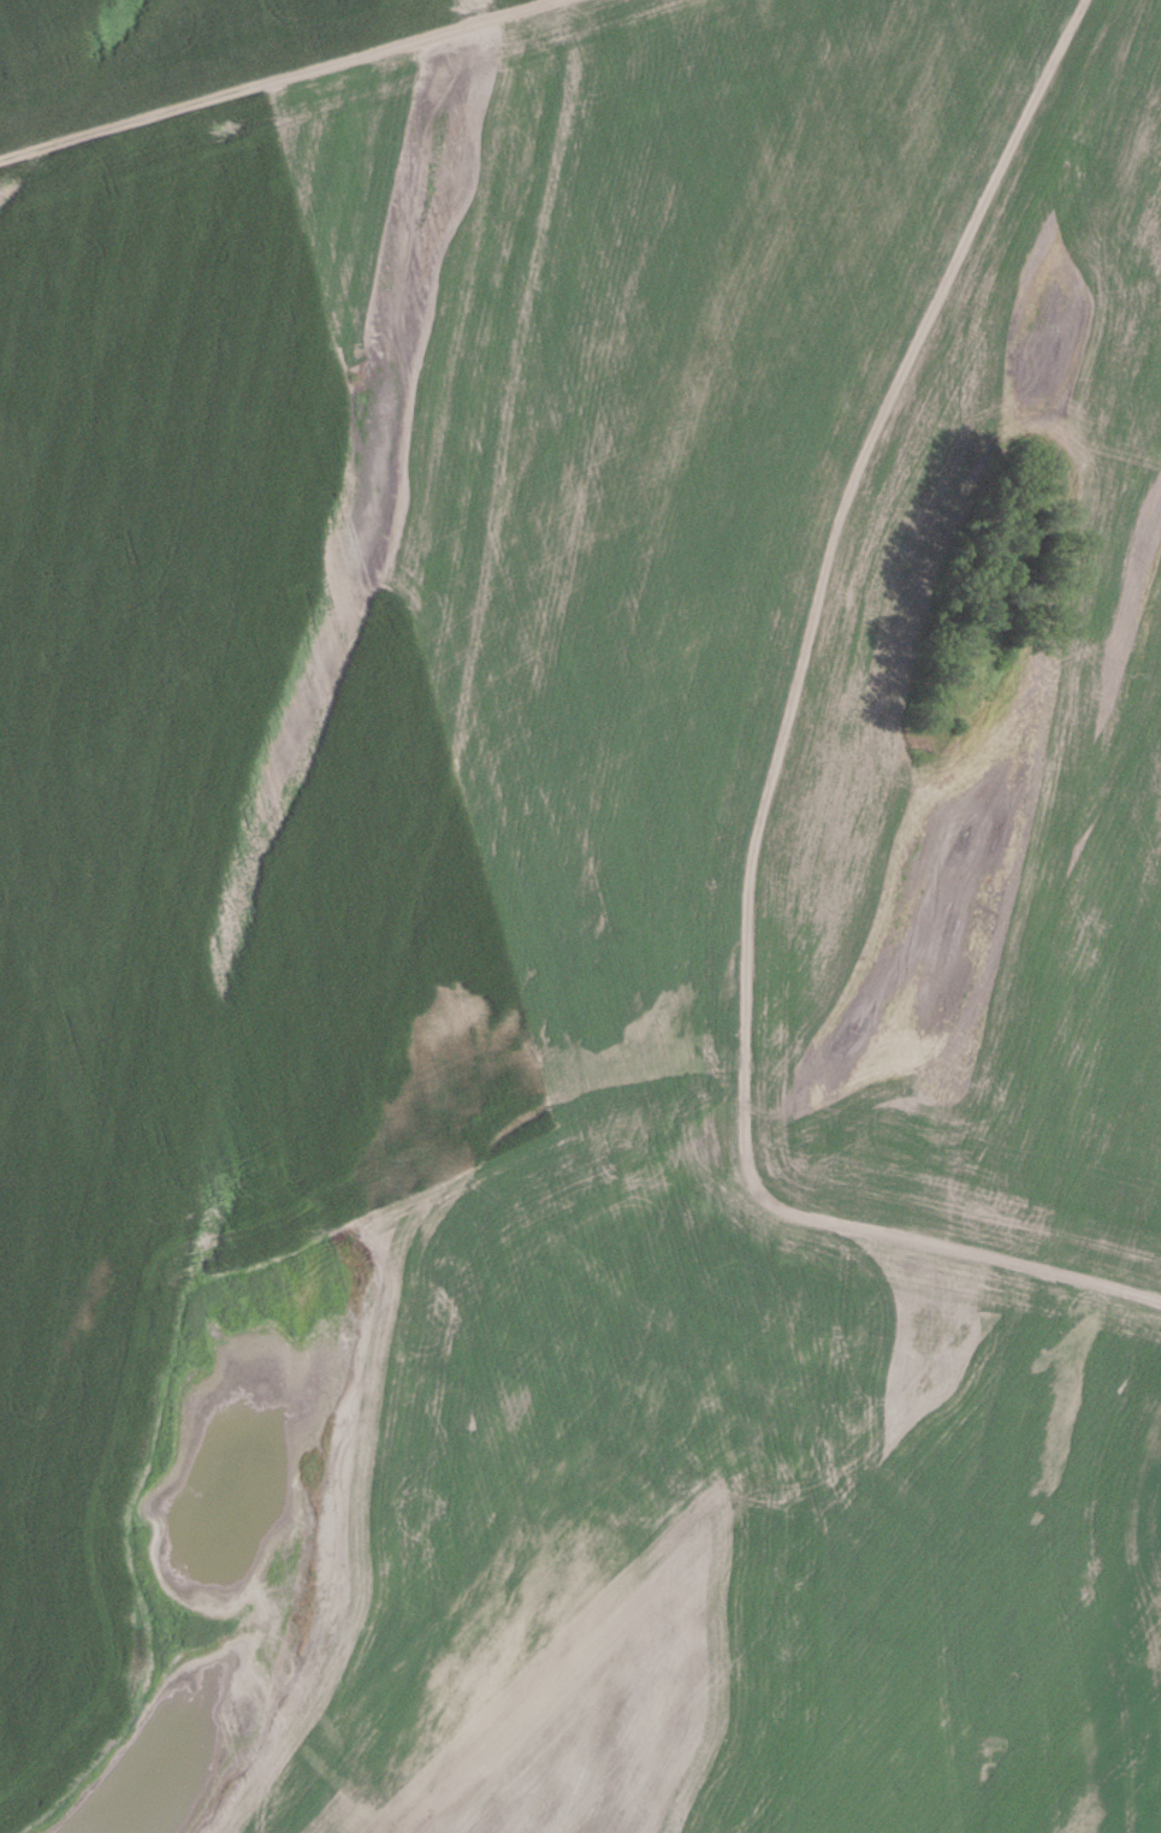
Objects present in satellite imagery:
road: (273, 79)
road: (769, 777)
crop: (575, 920)

